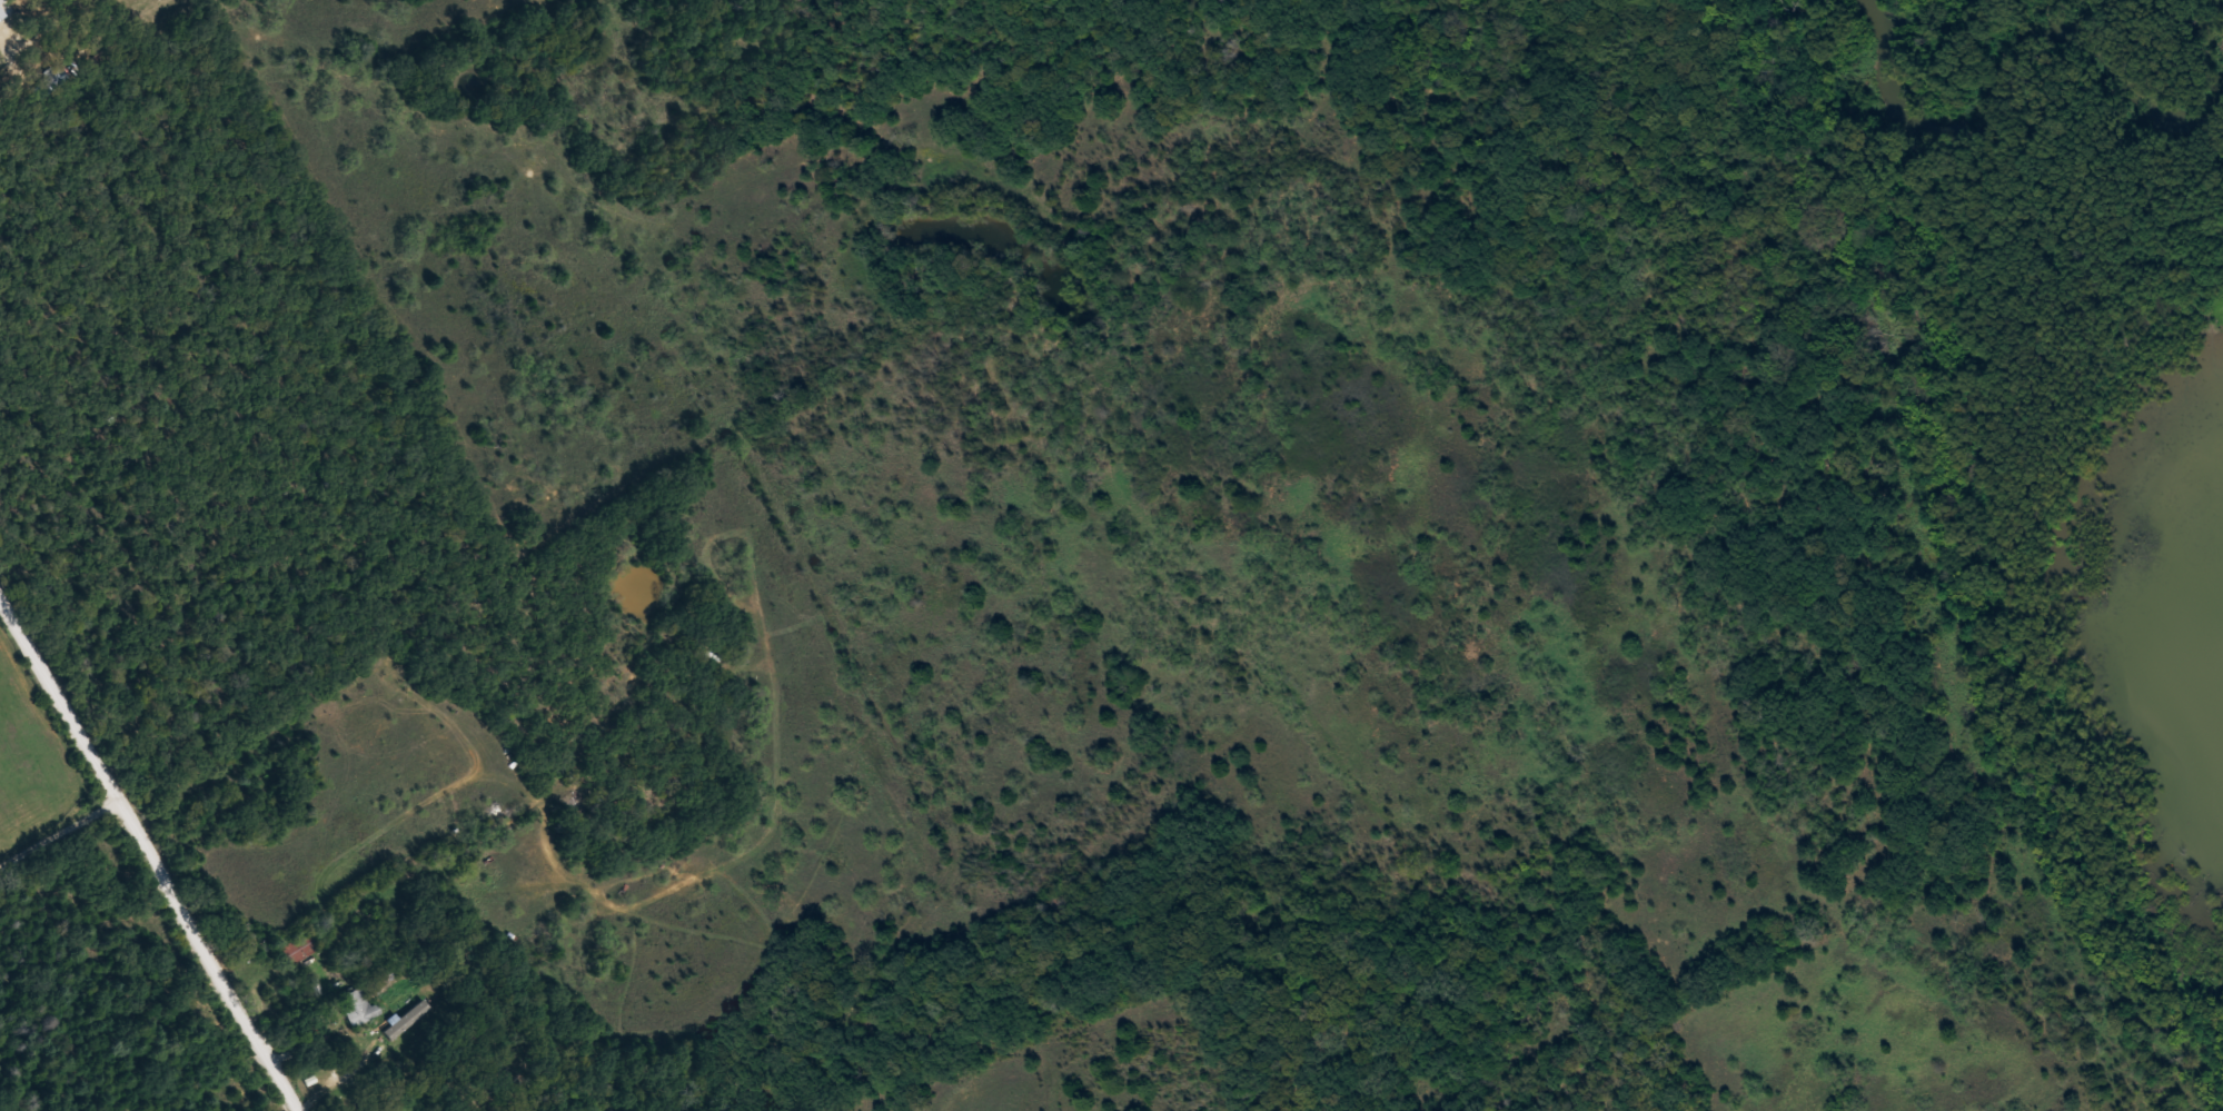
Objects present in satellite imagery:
building: (54, 76)
road: (155, 846)
building: (300, 945)
building: (358, 1005)

